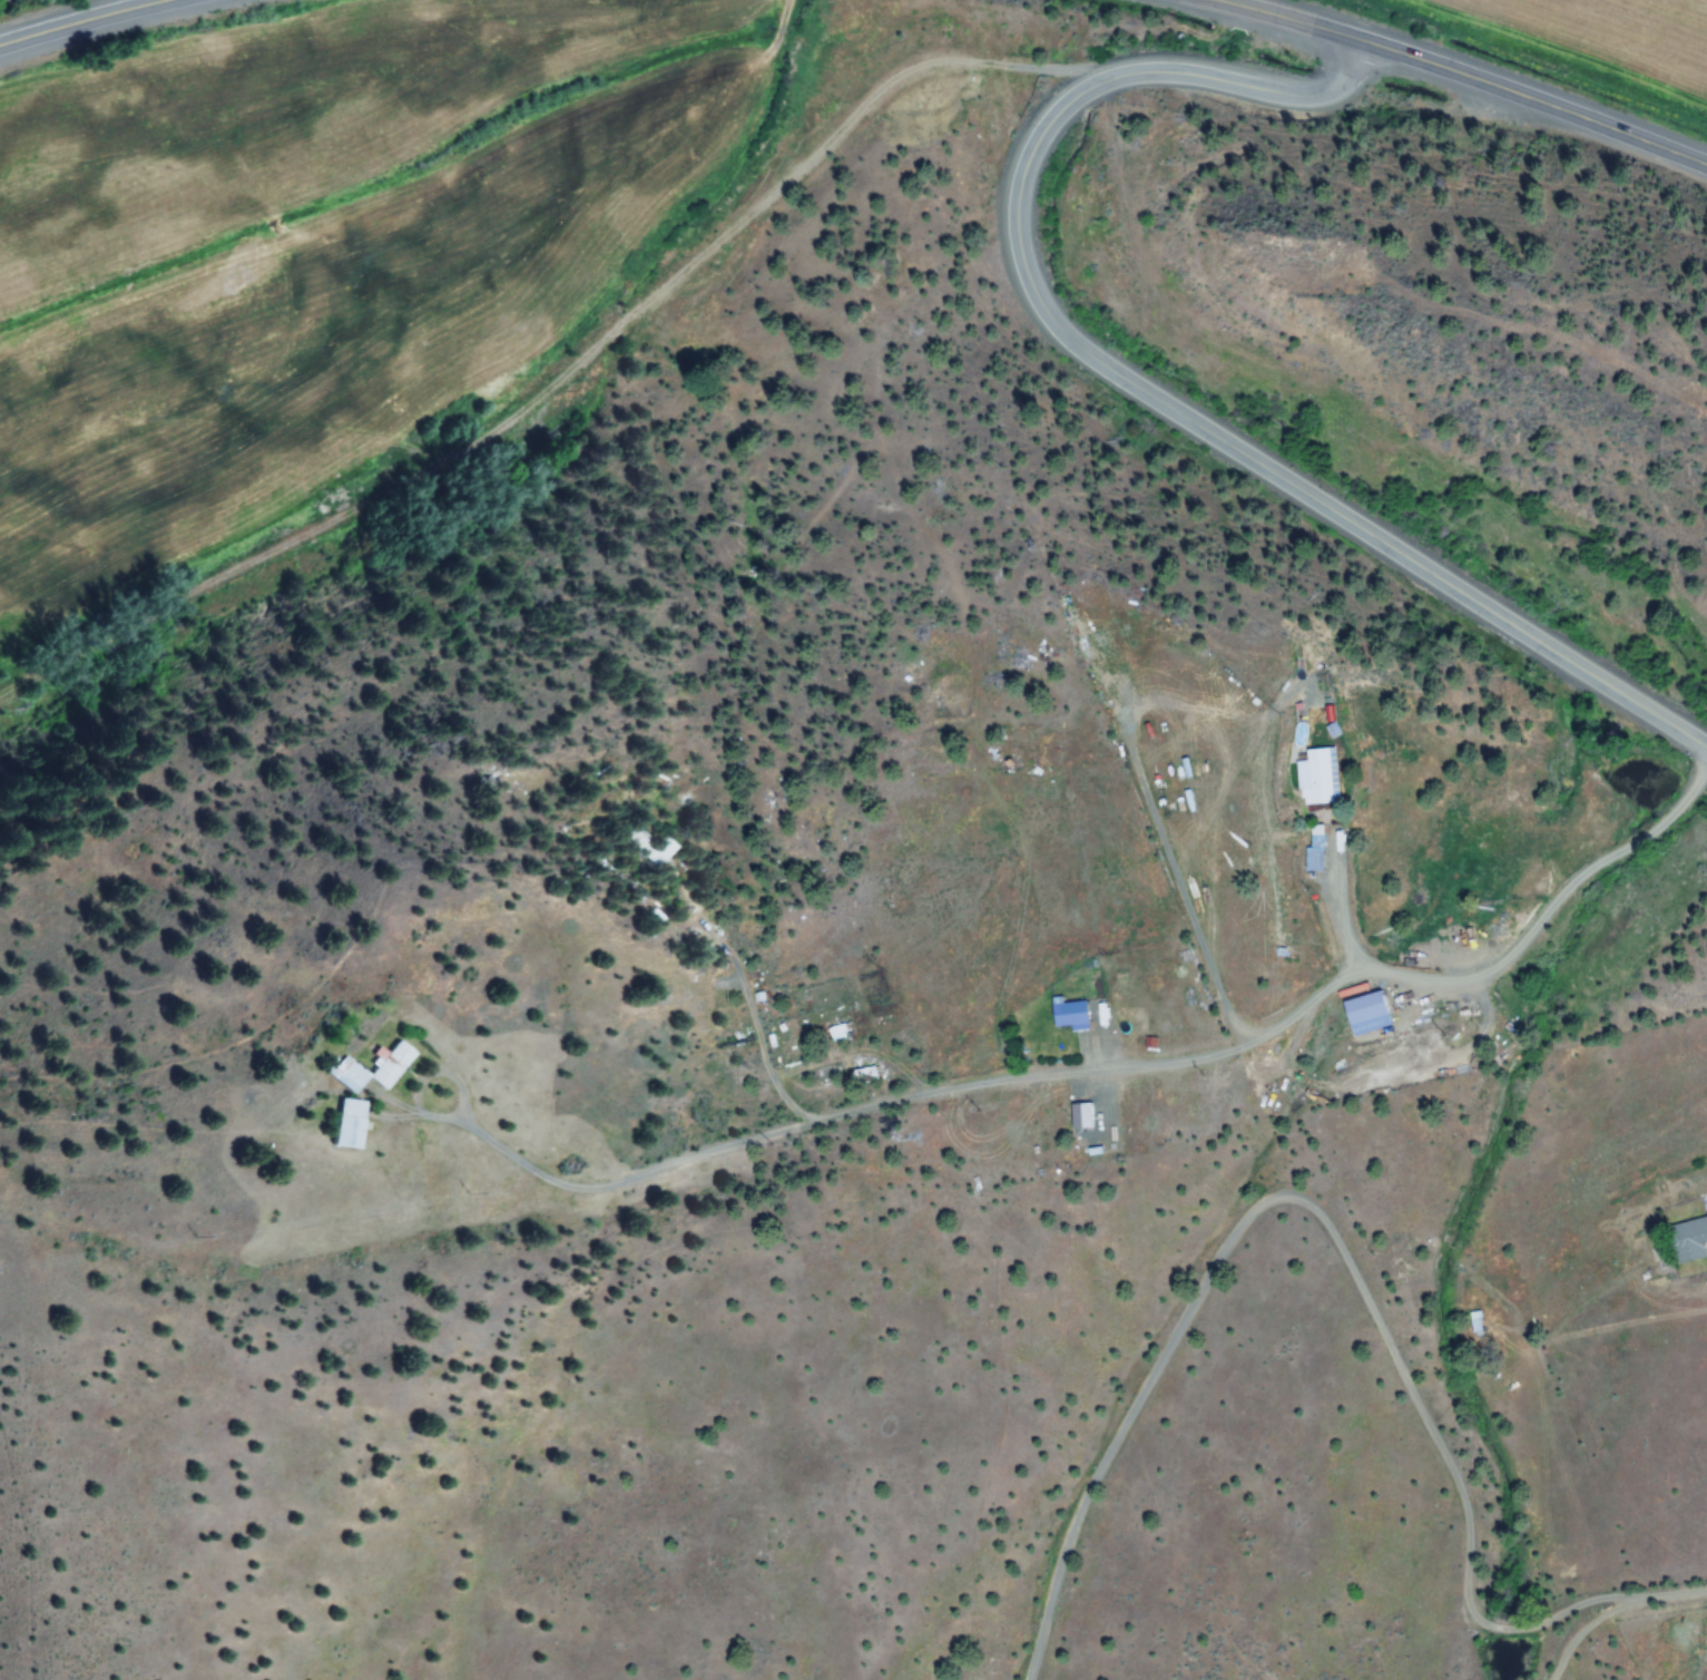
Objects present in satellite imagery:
road: (79, 21)
road: (1473, 75)
road: (1136, 388)
building: (1316, 775)
road: (1672, 822)
building: (1367, 1008)
building: (1068, 1013)
building: (833, 1032)
building: (389, 1065)
building: (864, 1075)
road: (1041, 1112)
building: (345, 1123)
building: (1695, 1238)
road: (1609, 1605)

